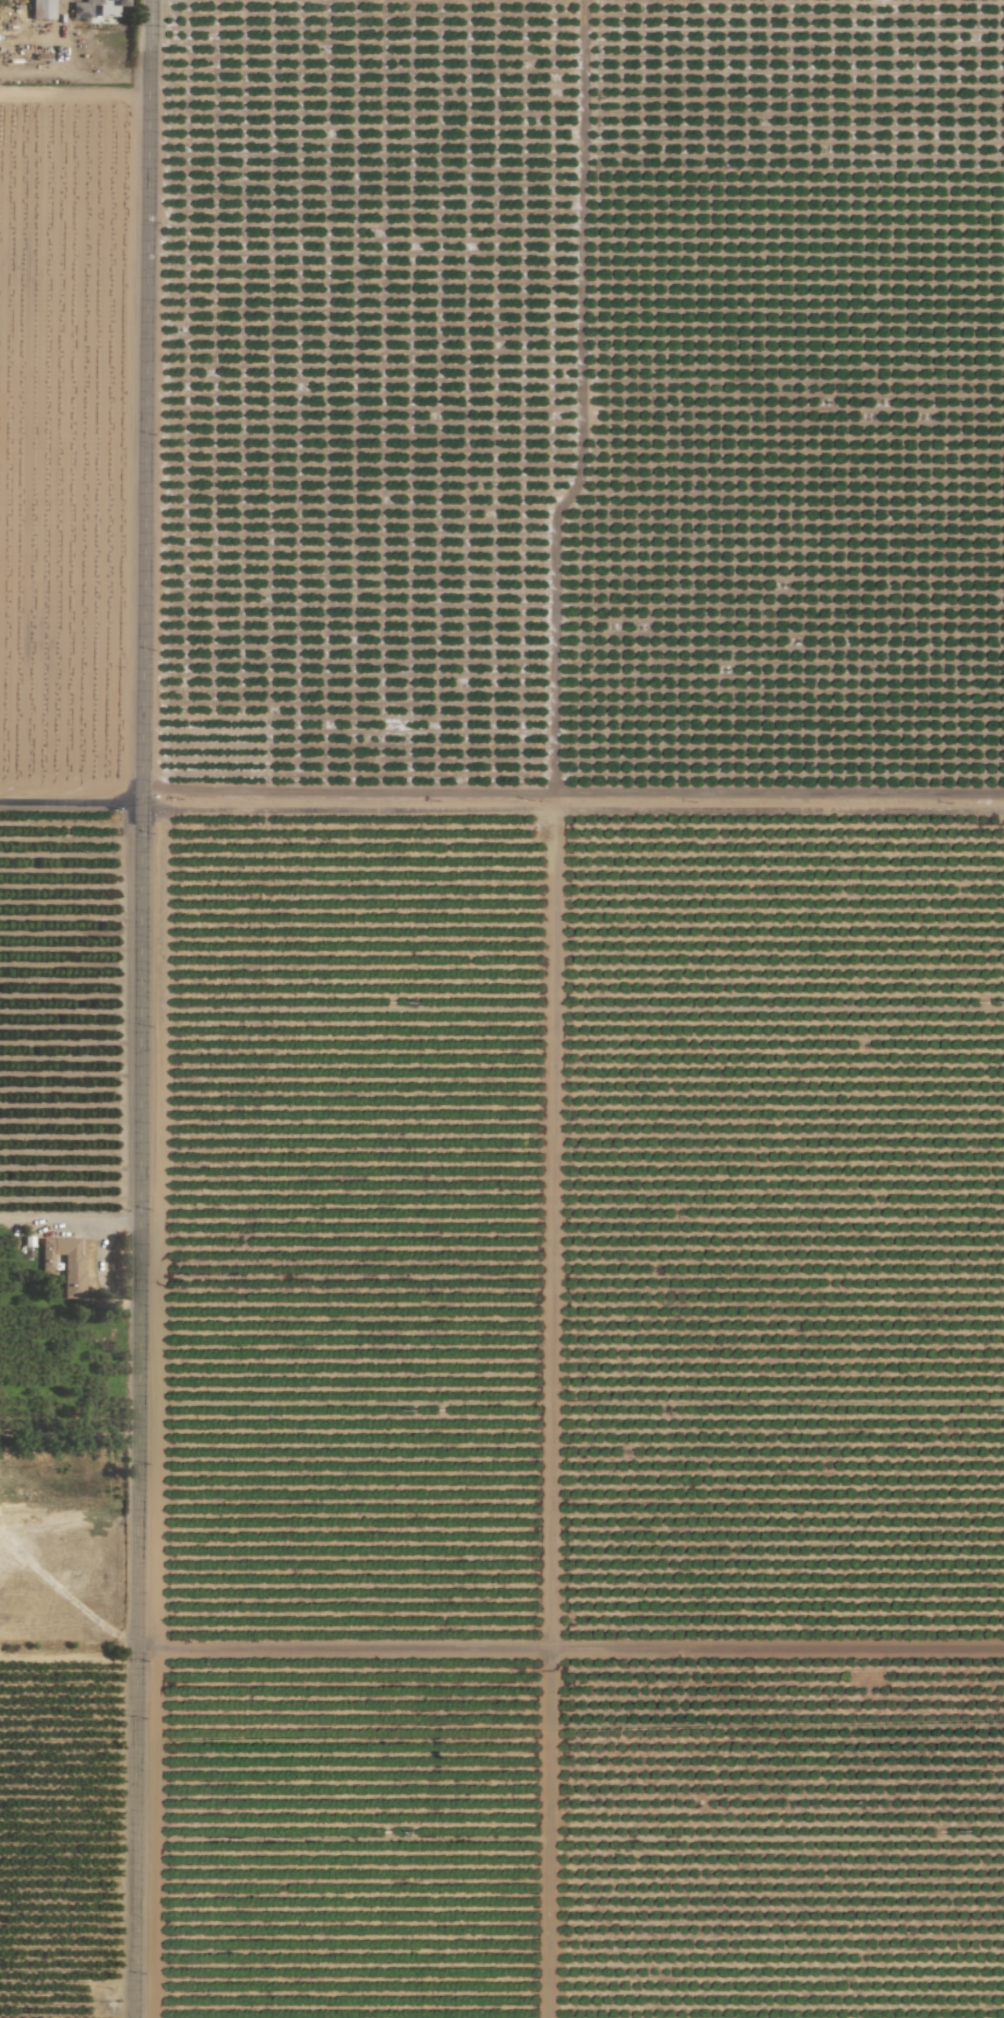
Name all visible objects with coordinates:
building: (43, 9)
building: (97, 10)
road: (74, 75)
road: (572, 795)
road: (71, 800)
road: (140, 1008)
road: (69, 1218)
building: (66, 1263)
road: (571, 1643)
road: (69, 1656)

